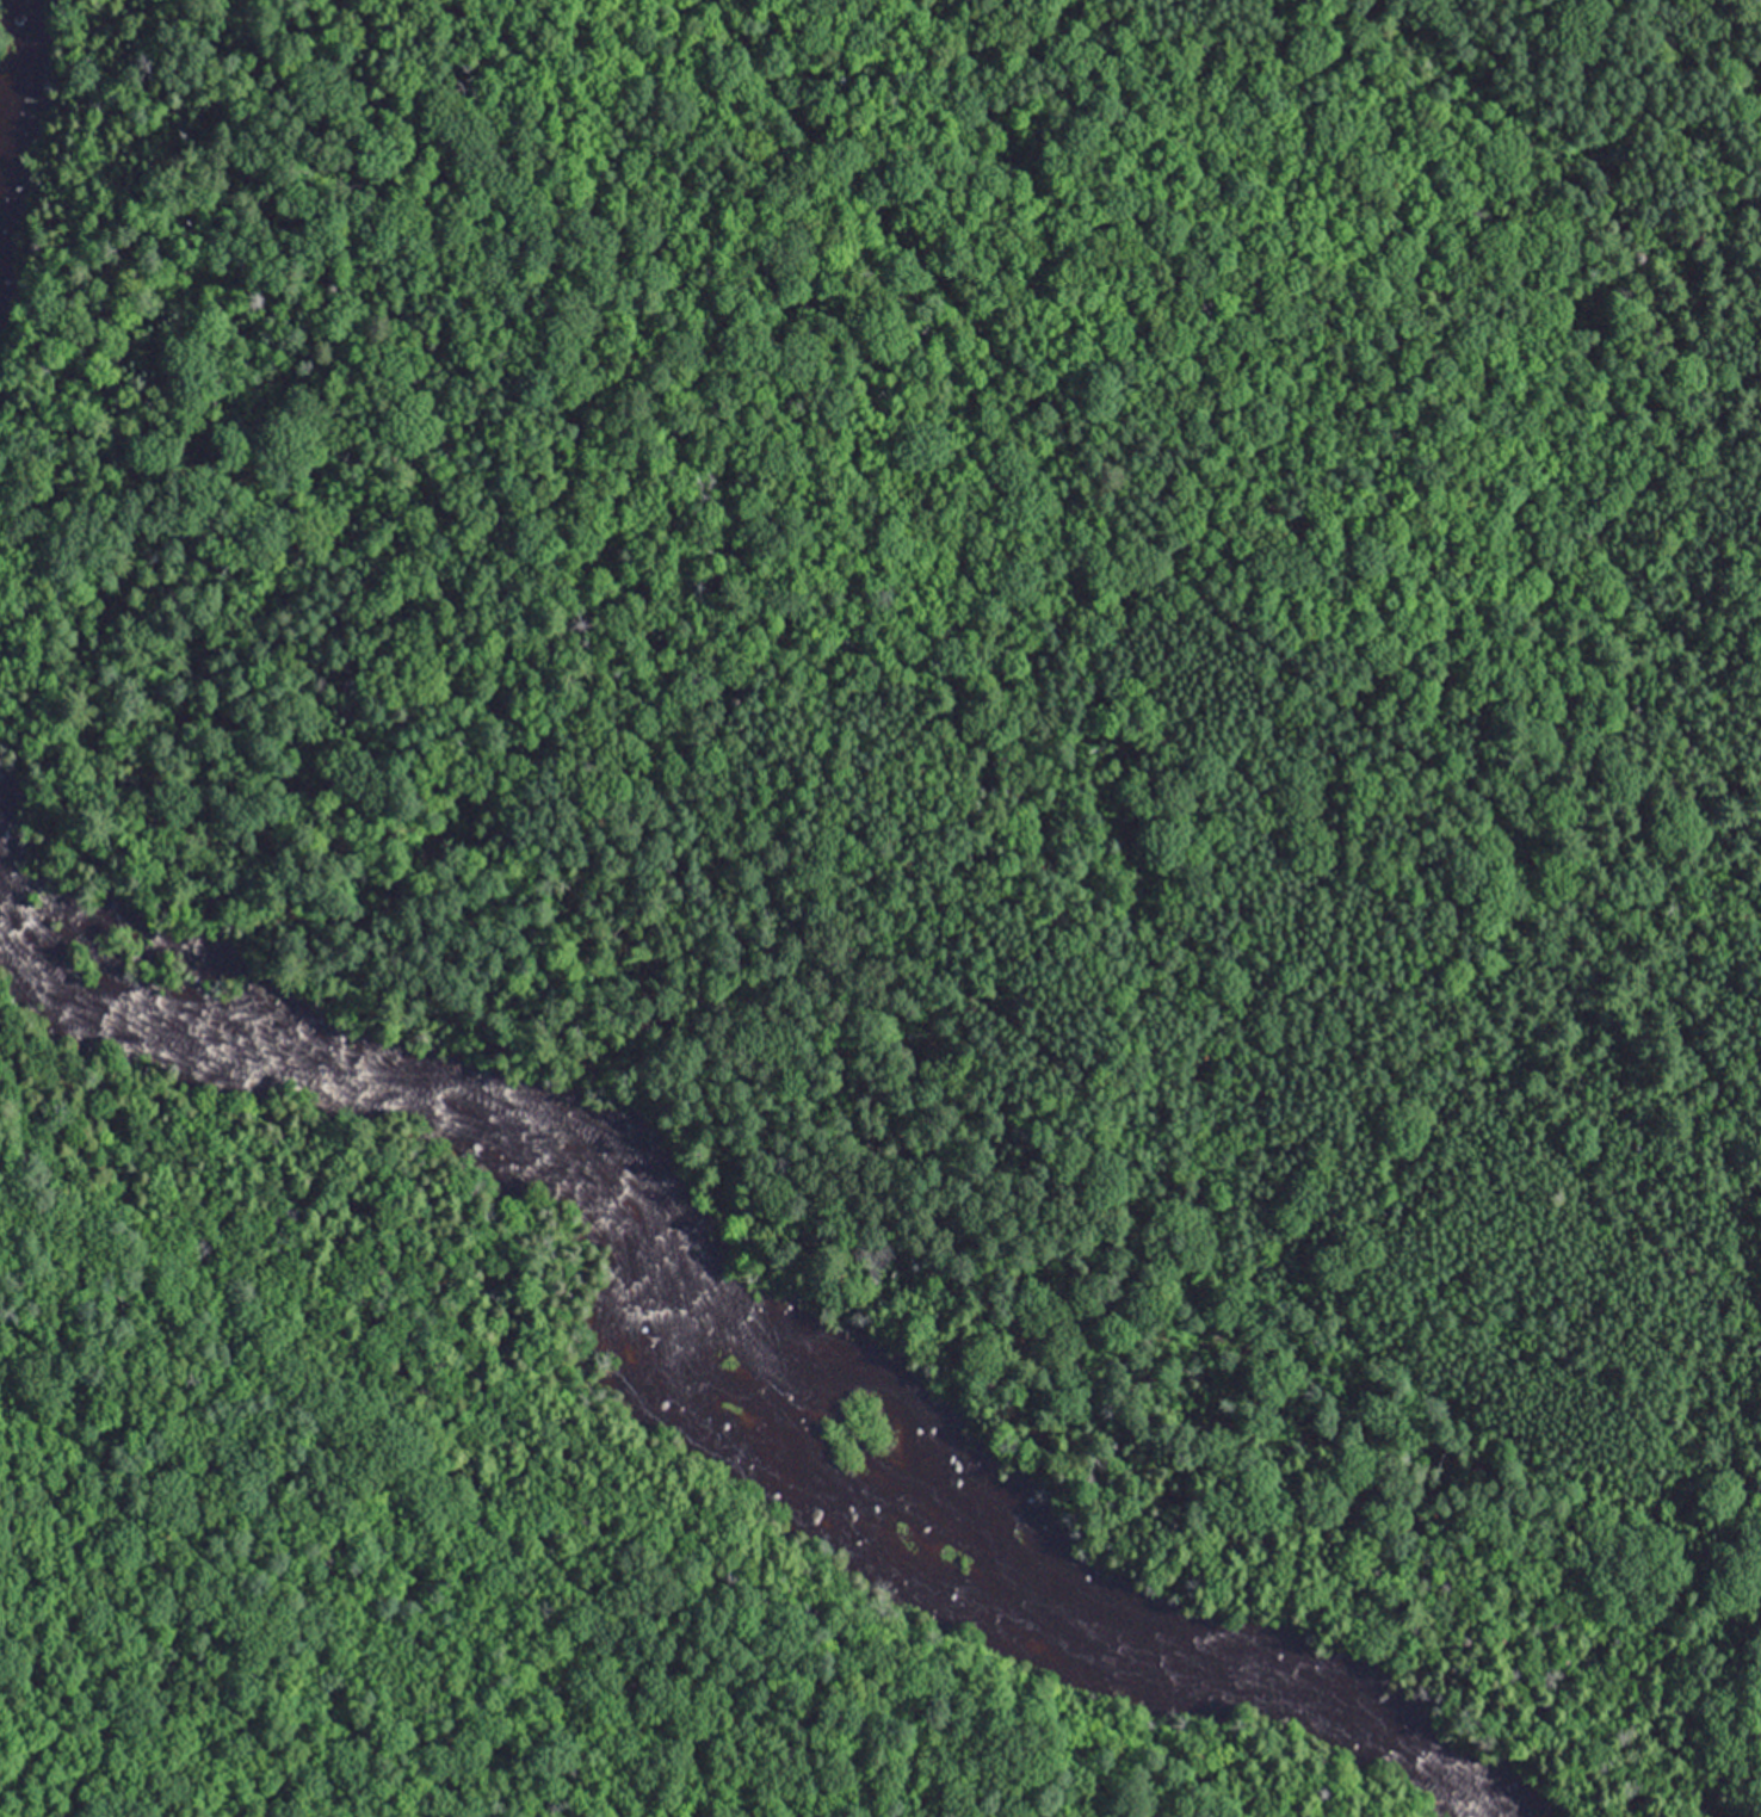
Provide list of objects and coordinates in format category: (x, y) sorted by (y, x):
road: (1203, 593)
river: (706, 1292)
river: (1445, 1756)

